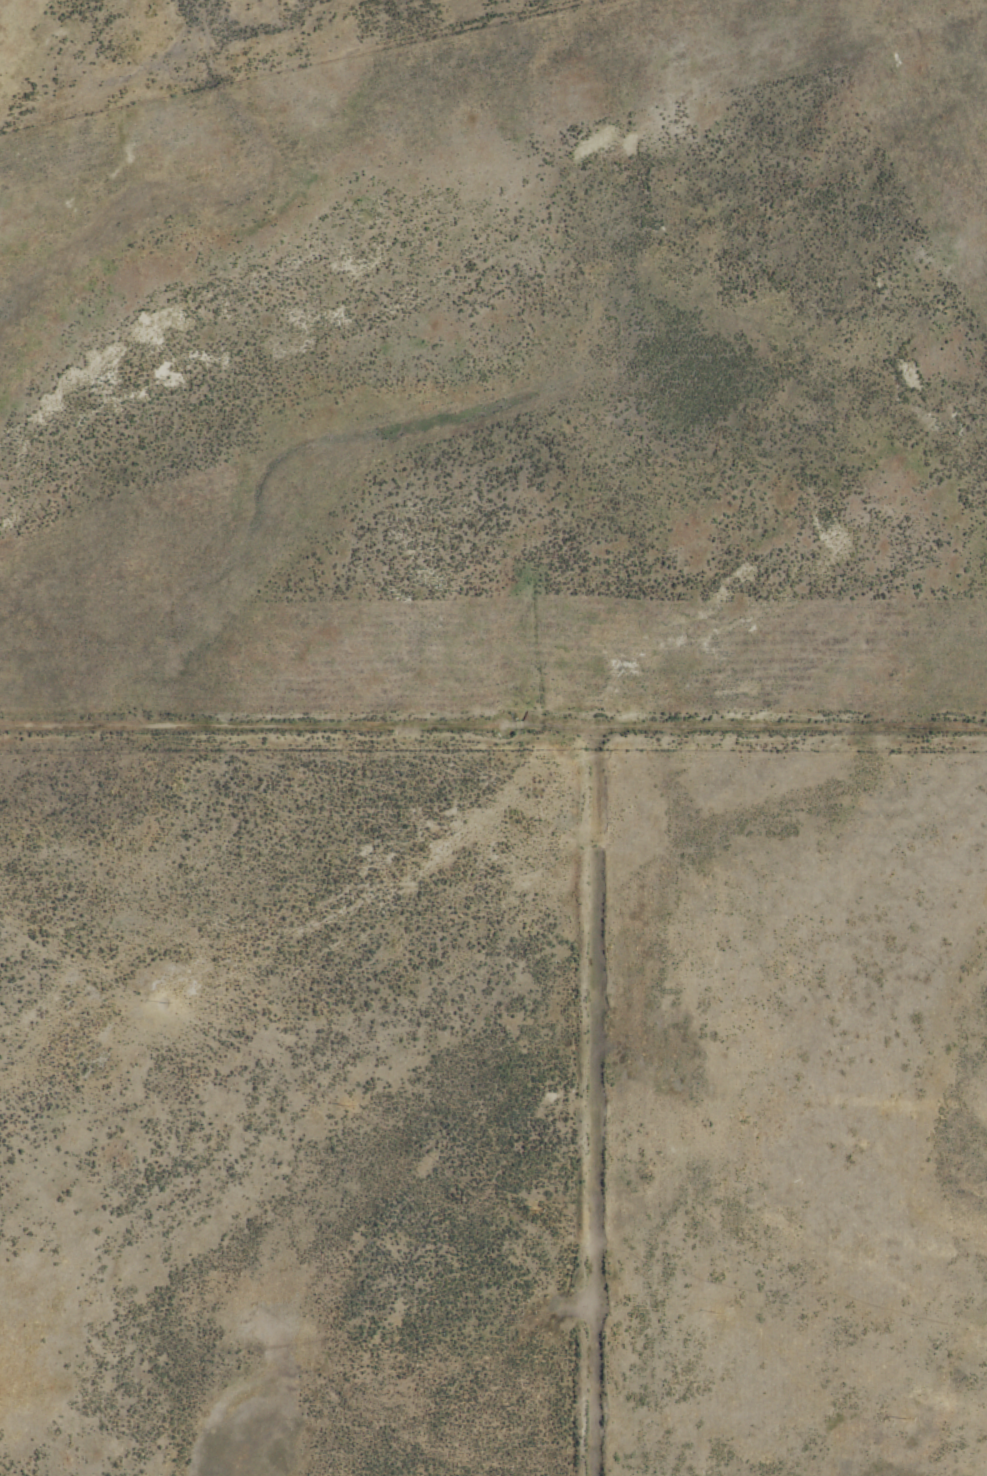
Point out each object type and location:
crop: (493, 738)

